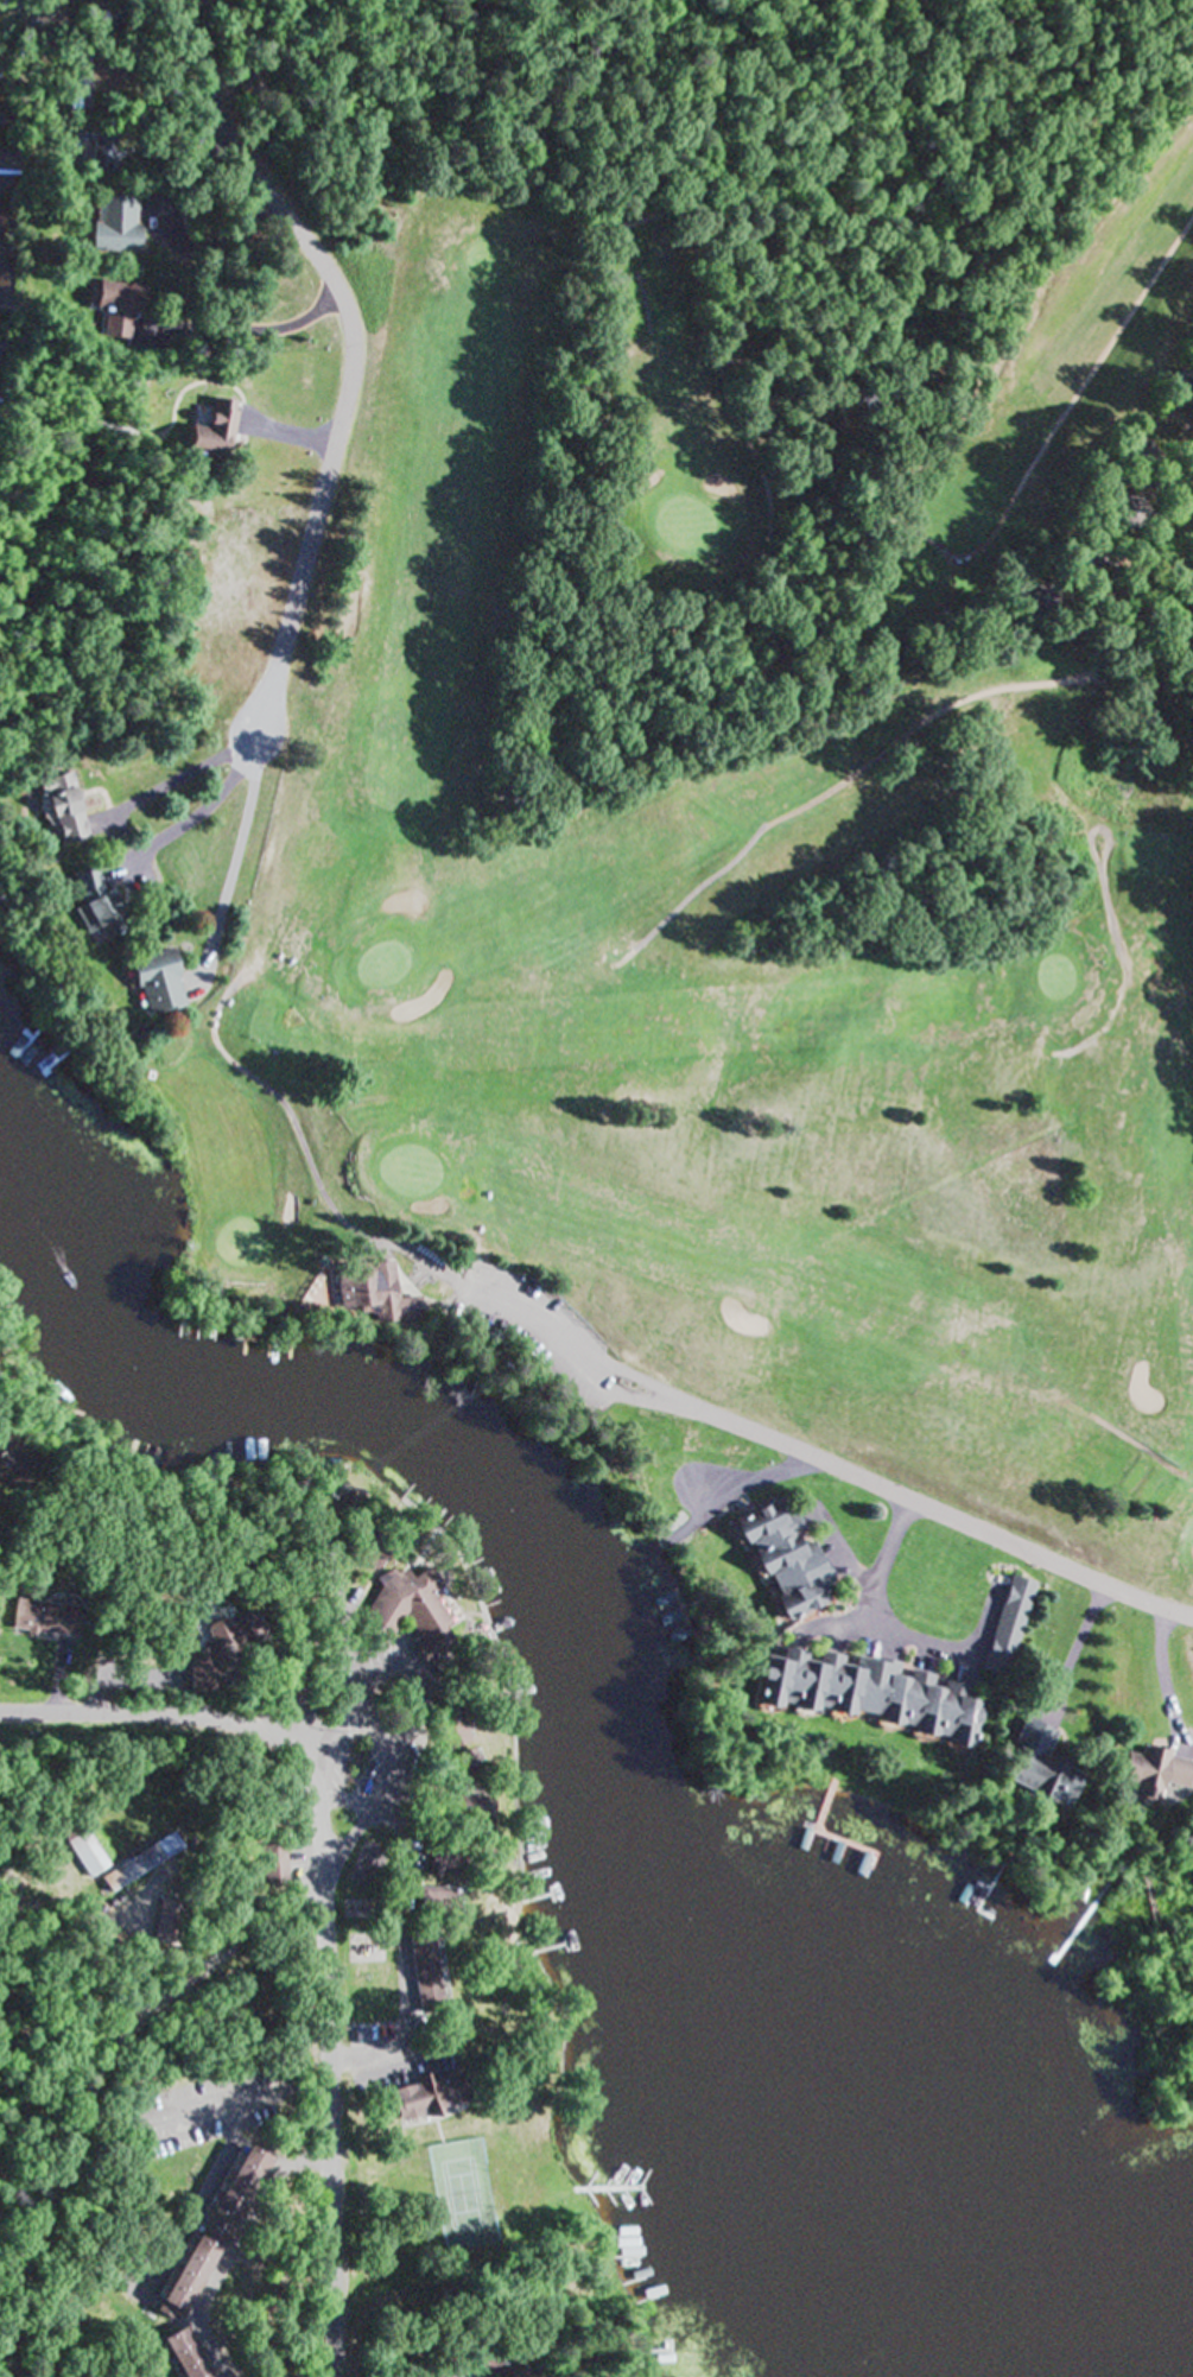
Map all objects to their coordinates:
building: (51, 14)
building: (100, 150)
building: (112, 224)
building: (115, 308)
road: (354, 354)
building: (209, 432)
building: (1123, 509)
park: (729, 760)
building: (57, 810)
building: (94, 904)
park: (385, 961)
park: (1053, 976)
building: (153, 983)
park: (407, 1167)
building: (363, 1292)
road: (129, 1500)
road: (922, 1504)
building: (778, 1559)
building: (402, 1610)
building: (1008, 1618)
building: (36, 1619)
building: (214, 1637)
river: (613, 1694)
building: (867, 1694)
road: (246, 1714)
building: (438, 1730)
building: (1039, 1766)
building: (1150, 1771)
building: (452, 1807)
building: (80, 1849)
building: (269, 1864)
building: (432, 1865)
building: (131, 1868)
building: (429, 1901)
building: (418, 1971)
building: (419, 2096)
road: (342, 2148)
building: (204, 2235)
building: (180, 2353)
river: (1173, 2363)
building: (489, 2365)

